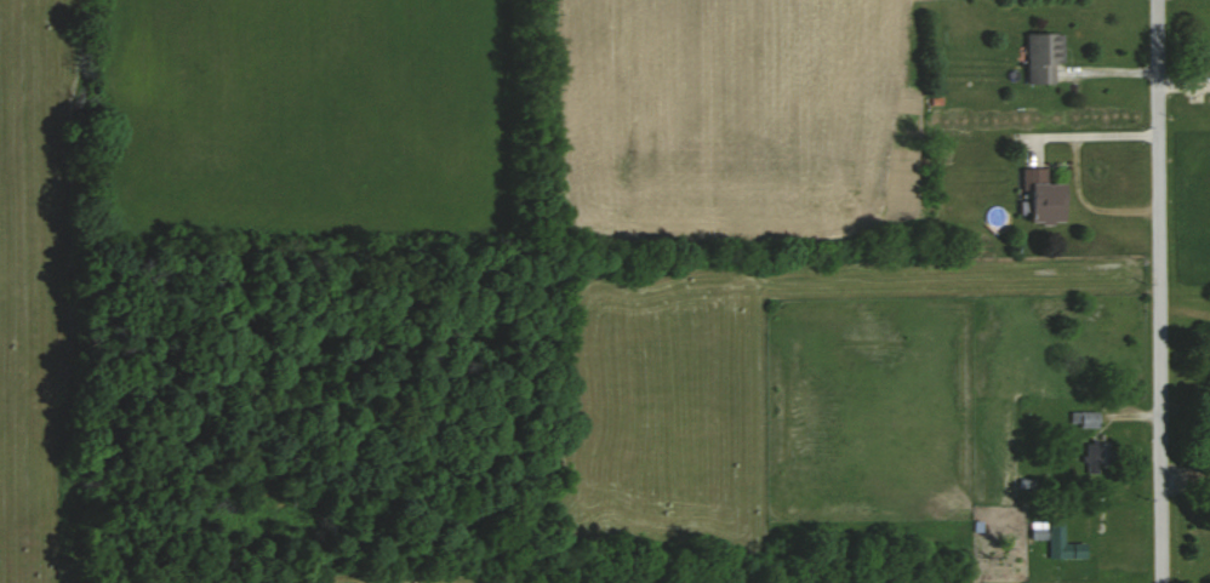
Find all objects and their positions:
building: (1045, 58)
building: (1046, 198)
road: (1160, 291)
building: (1086, 421)
building: (1101, 456)

